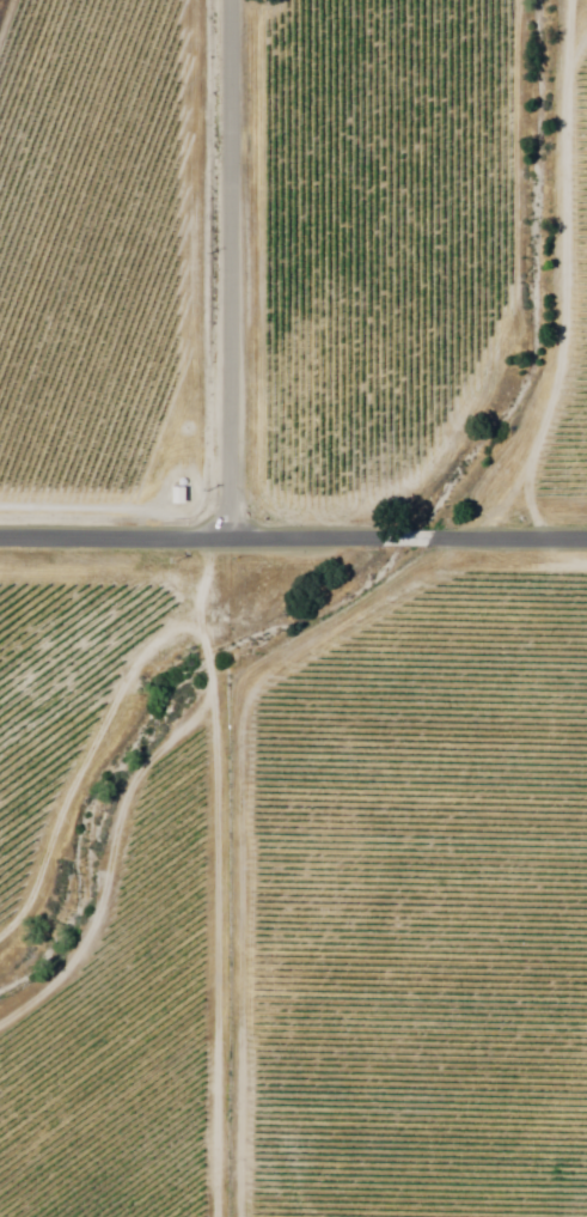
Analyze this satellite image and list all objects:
road: (227, 268)
road: (195, 535)
road: (411, 538)
road: (510, 540)

